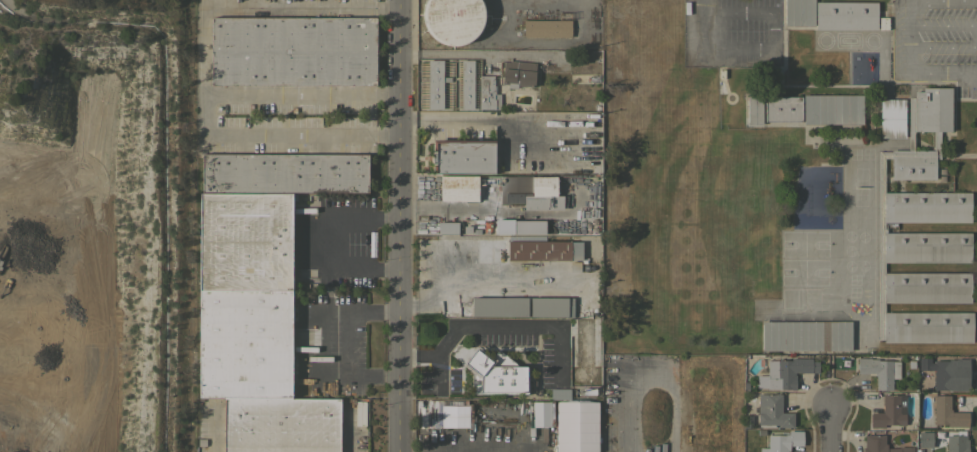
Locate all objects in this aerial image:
road: (701, 5)
road: (255, 6)
road: (754, 11)
building: (799, 12)
building: (846, 15)
building: (453, 20)
storage tank: (453, 20)
building: (883, 23)
building: (546, 27)
road: (905, 38)
road: (716, 49)
building: (292, 50)
building: (577, 62)
building: (517, 74)
building: (433, 84)
building: (466, 84)
road: (298, 92)
building: (488, 92)
building: (782, 108)
building: (754, 109)
building: (832, 109)
building: (891, 118)
road: (277, 137)
building: (462, 156)
building: (283, 172)
building: (458, 188)
building: (535, 192)
road: (485, 211)
road: (396, 226)
quarry: (84, 227)
building: (447, 227)
building: (922, 234)
road: (334, 239)
building: (245, 241)
building: (544, 250)
building: (499, 306)
building: (551, 306)
road: (495, 326)
building: (805, 335)
road: (324, 342)
building: (244, 344)
building: (879, 371)
building: (785, 372)
building: (495, 374)
building: (950, 374)
building: (608, 380)
building: (559, 393)
building: (772, 411)
building: (889, 411)
building: (947, 412)
building: (539, 413)
building: (280, 424)
building: (576, 426)
road: (828, 429)
road: (346, 430)
building: (925, 439)
building: (622, 440)
building: (782, 441)
building: (956, 442)
building: (880, 444)

